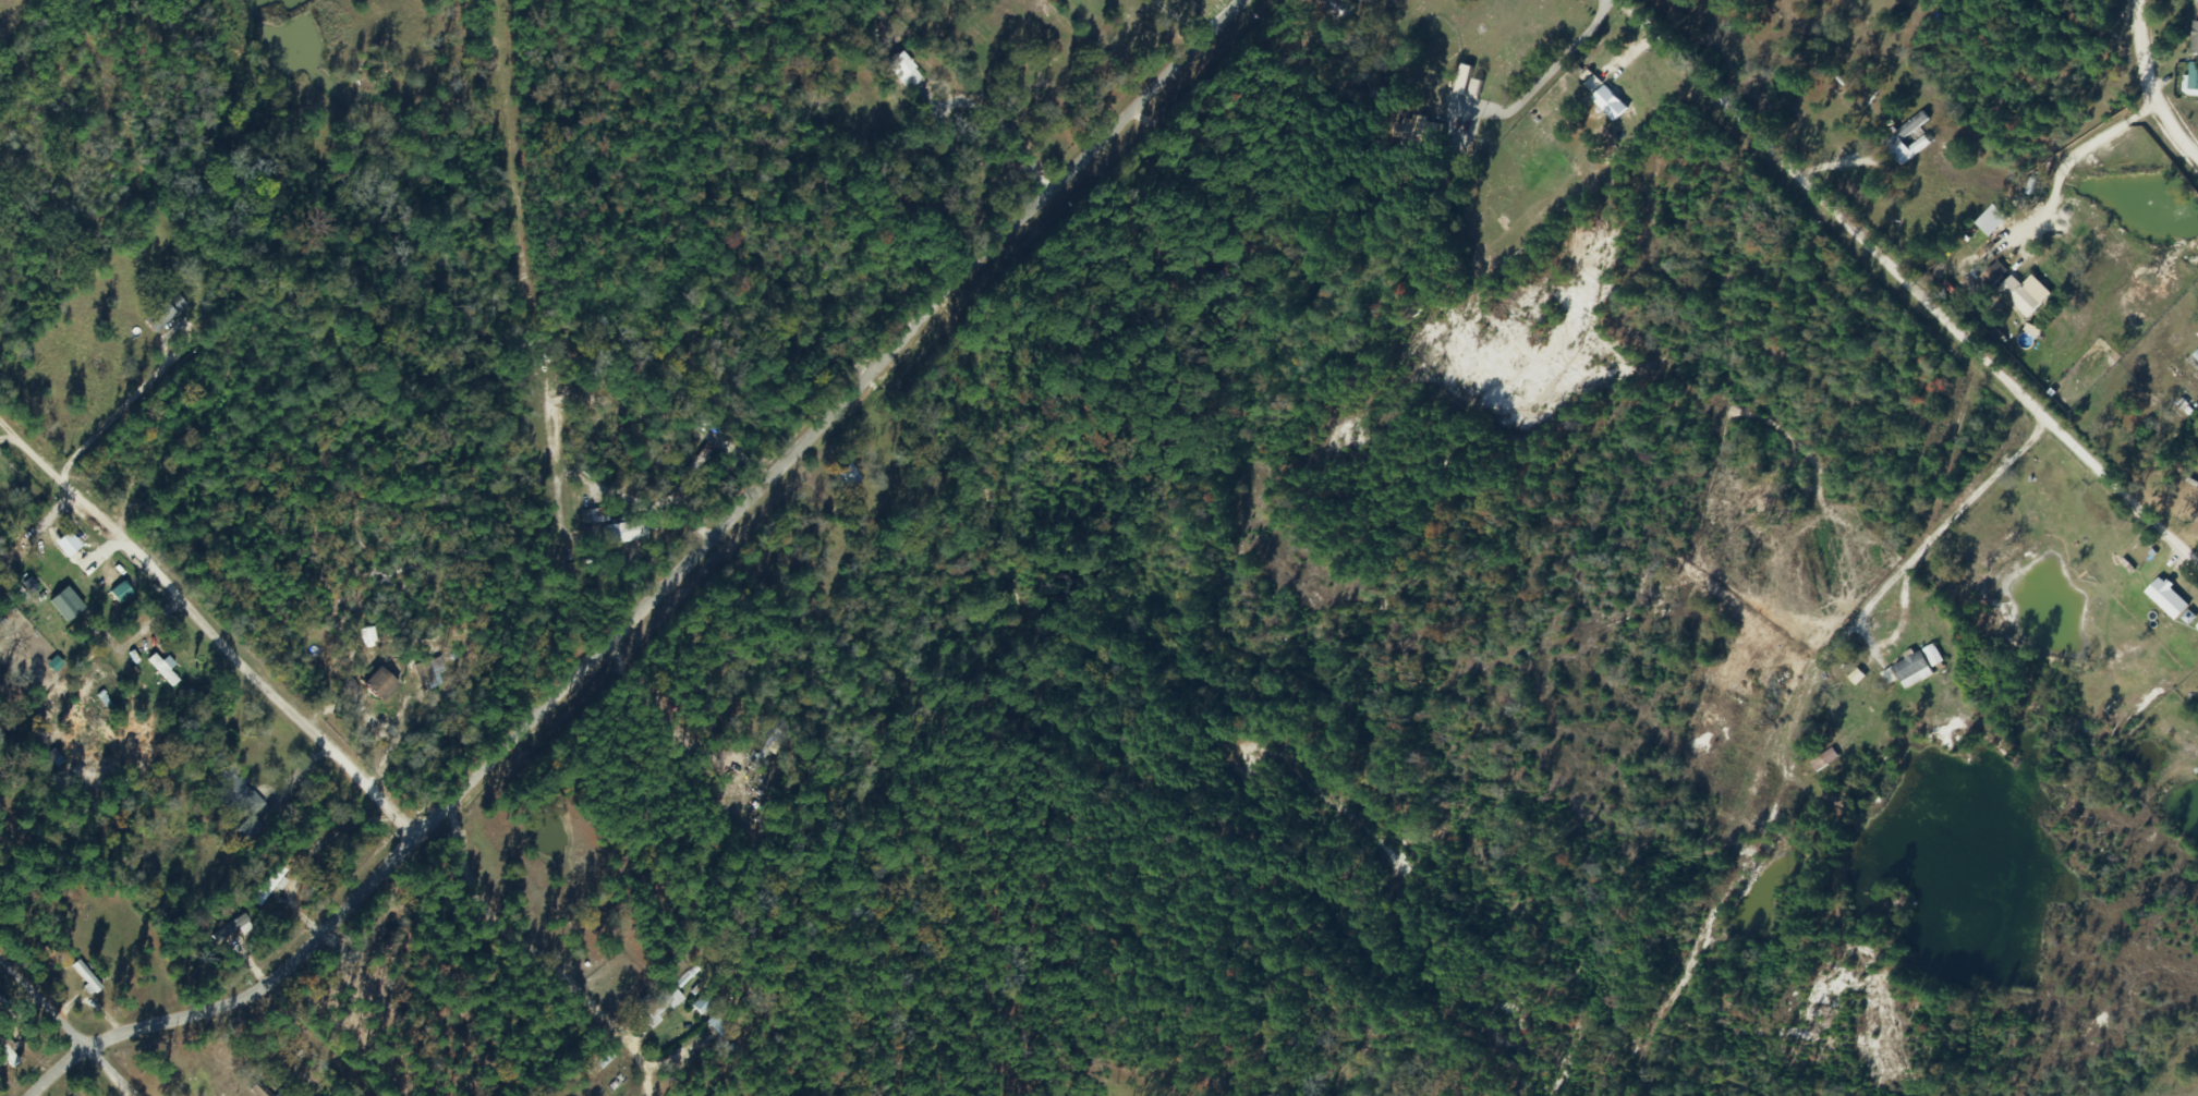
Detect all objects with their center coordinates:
building: (1329, 8)
building: (2193, 39)
building: (899, 73)
building: (2191, 77)
road: (1541, 78)
building: (1465, 84)
road: (2144, 87)
road: (967, 92)
building: (1607, 102)
building: (1992, 275)
road: (1914, 280)
building: (2017, 296)
building: (165, 313)
building: (2197, 329)
road: (539, 344)
building: (702, 456)
building: (845, 476)
building: (594, 517)
building: (620, 533)
road: (1907, 560)
road: (679, 588)
building: (2165, 599)
building: (66, 606)
road: (210, 626)
building: (368, 637)
building: (161, 670)
building: (1907, 671)
building: (430, 677)
building: (385, 684)
building: (765, 752)
building: (1823, 760)
building: (229, 791)
building: (247, 829)
building: (85, 977)
road: (48, 1004)
building: (2, 1006)
building: (658, 1006)
building: (719, 1023)

